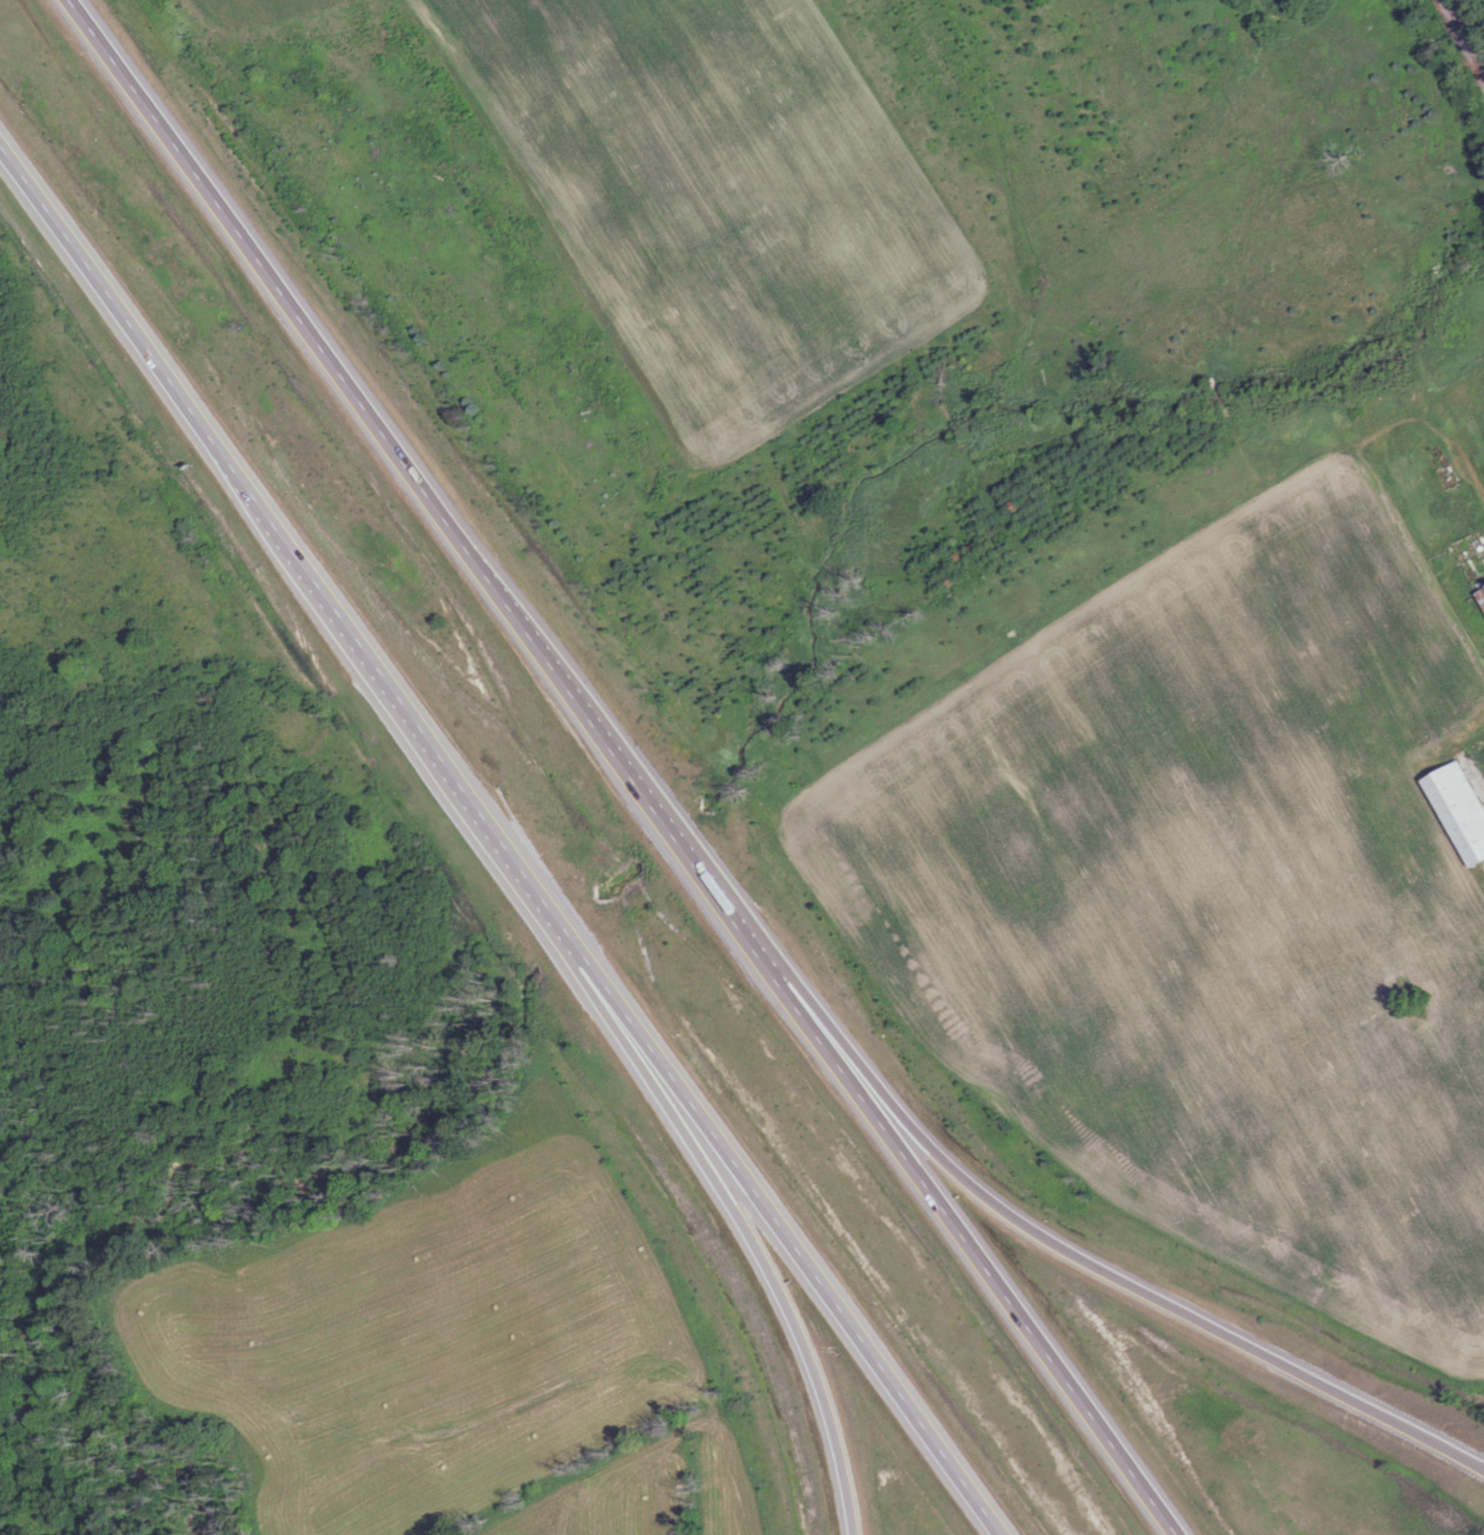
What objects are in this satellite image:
railway: (1465, 37)
building: (1482, 585)
road: (625, 766)
building: (1457, 810)
road: (503, 838)
road: (1085, 1258)
road: (769, 1271)

